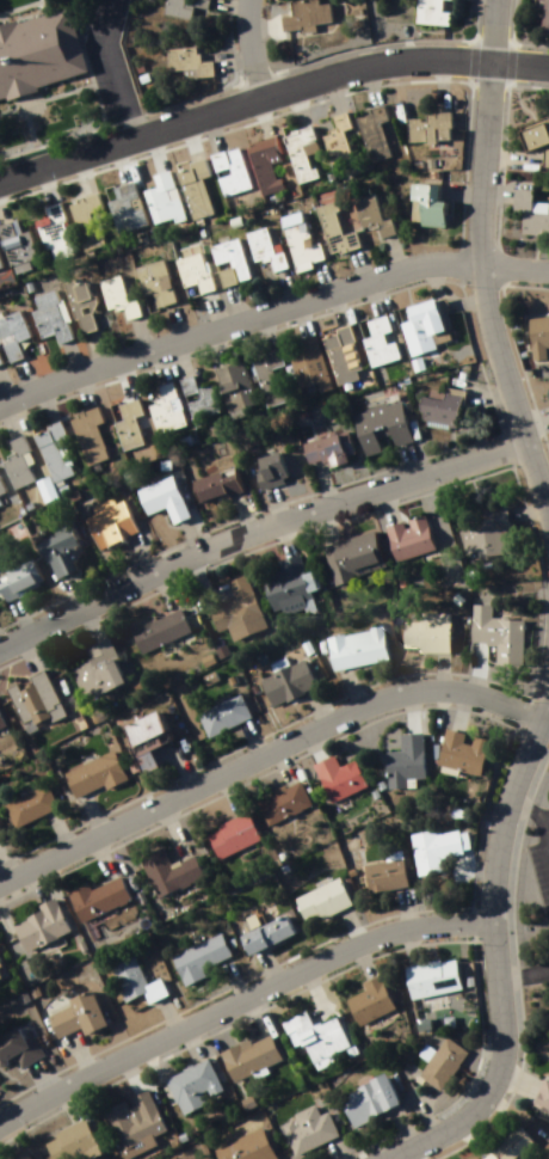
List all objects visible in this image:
building: (186, 8)
building: (433, 13)
building: (309, 16)
building: (544, 17)
road: (493, 27)
road: (252, 43)
building: (37, 48)
parking lot: (106, 56)
road: (519, 60)
building: (191, 65)
road: (115, 66)
road: (442, 73)
road: (366, 75)
road: (328, 84)
road: (241, 94)
road: (295, 96)
road: (257, 106)
road: (209, 123)
building: (427, 123)
road: (187, 129)
building: (368, 129)
building: (333, 135)
building: (536, 135)
road: (152, 141)
building: (295, 152)
road: (115, 153)
building: (547, 159)
building: (263, 161)
road: (78, 166)
building: (226, 170)
road: (41, 178)
building: (192, 184)
road: (461, 189)
building: (158, 194)
building: (424, 202)
building: (123, 203)
building: (364, 210)
building: (532, 215)
building: (82, 216)
building: (329, 227)
building: (53, 231)
building: (298, 240)
building: (14, 245)
building: (258, 246)
road: (390, 250)
building: (224, 258)
road: (353, 265)
building: (0, 266)
building: (191, 269)
road: (322, 278)
road: (442, 280)
building: (150, 281)
road: (481, 284)
road: (284, 289)
building: (112, 294)
road: (456, 294)
road: (372, 295)
building: (74, 302)
road: (229, 307)
road: (332, 307)
road: (270, 308)
road: (212, 311)
building: (47, 314)
road: (300, 318)
building: (417, 323)
road: (172, 324)
road: (261, 329)
building: (8, 335)
road: (138, 335)
building: (374, 338)
building: (539, 339)
road: (216, 344)
road: (95, 350)
building: (338, 350)
road: (173, 357)
road: (70, 361)
building: (0, 364)
road: (153, 364)
building: (304, 366)
building: (263, 370)
road: (21, 379)
road: (119, 380)
building: (229, 382)
road: (81, 392)
road: (4, 393)
building: (191, 397)
building: (438, 405)
road: (42, 406)
building: (160, 406)
road: (7, 419)
building: (123, 423)
building: (380, 423)
building: (84, 434)
road: (448, 444)
building: (323, 446)
building: (48, 449)
road: (408, 456)
building: (11, 460)
building: (19, 466)
building: (266, 467)
road: (321, 479)
building: (211, 484)
building: (1, 490)
building: (159, 496)
road: (277, 498)
road: (385, 503)
road: (246, 509)
building: (104, 521)
road: (323, 523)
road: (255, 528)
road: (189, 534)
building: (414, 534)
road: (279, 538)
building: (477, 538)
road: (143, 550)
building: (54, 551)
building: (350, 554)
road: (228, 557)
building: (16, 578)
building: (285, 587)
road: (164, 588)
road: (70, 590)
building: (230, 612)
road: (16, 617)
road: (86, 623)
building: (492, 624)
building: (425, 630)
building: (156, 632)
building: (353, 645)
road: (20, 657)
road: (439, 667)
road: (477, 668)
building: (94, 677)
building: (284, 680)
road: (352, 686)
building: (30, 701)
road: (408, 704)
road: (458, 705)
building: (218, 713)
building: (1, 728)
building: (140, 736)
road: (257, 737)
road: (265, 749)
building: (456, 750)
building: (402, 758)
road: (267, 761)
road: (186, 762)
building: (90, 772)
building: (335, 775)
road: (483, 787)
road: (216, 793)
building: (279, 799)
building: (27, 804)
road: (538, 810)
road: (87, 816)
road: (171, 822)
road: (56, 832)
building: (229, 833)
building: (0, 842)
building: (431, 845)
road: (99, 851)
road: (473, 866)
building: (166, 869)
building: (381, 871)
parking lot: (538, 873)
road: (1, 879)
building: (94, 895)
building: (316, 897)
road: (400, 903)
road: (350, 919)
road: (2, 920)
building: (38, 924)
building: (264, 931)
road: (413, 940)
road: (499, 951)
building: (196, 955)
road: (360, 957)
road: (266, 962)
building: (1, 969)
road: (525, 970)
building: (1, 975)
road: (233, 975)
building: (430, 975)
building: (135, 980)
road: (314, 989)
road: (241, 997)
building: (368, 1000)
building: (76, 1011)
road: (166, 1011)
road: (246, 1017)
building: (315, 1036)
road: (190, 1042)
building: (17, 1044)
road: (76, 1048)
building: (246, 1053)
building: (444, 1067)
road: (130, 1071)
road: (39, 1074)
building: (190, 1083)
building: (544, 1099)
road: (64, 1102)
building: (370, 1103)
building: (131, 1117)
building: (310, 1133)
building: (67, 1139)
building: (512, 1147)
building: (248, 1148)
building: (17, 1154)

